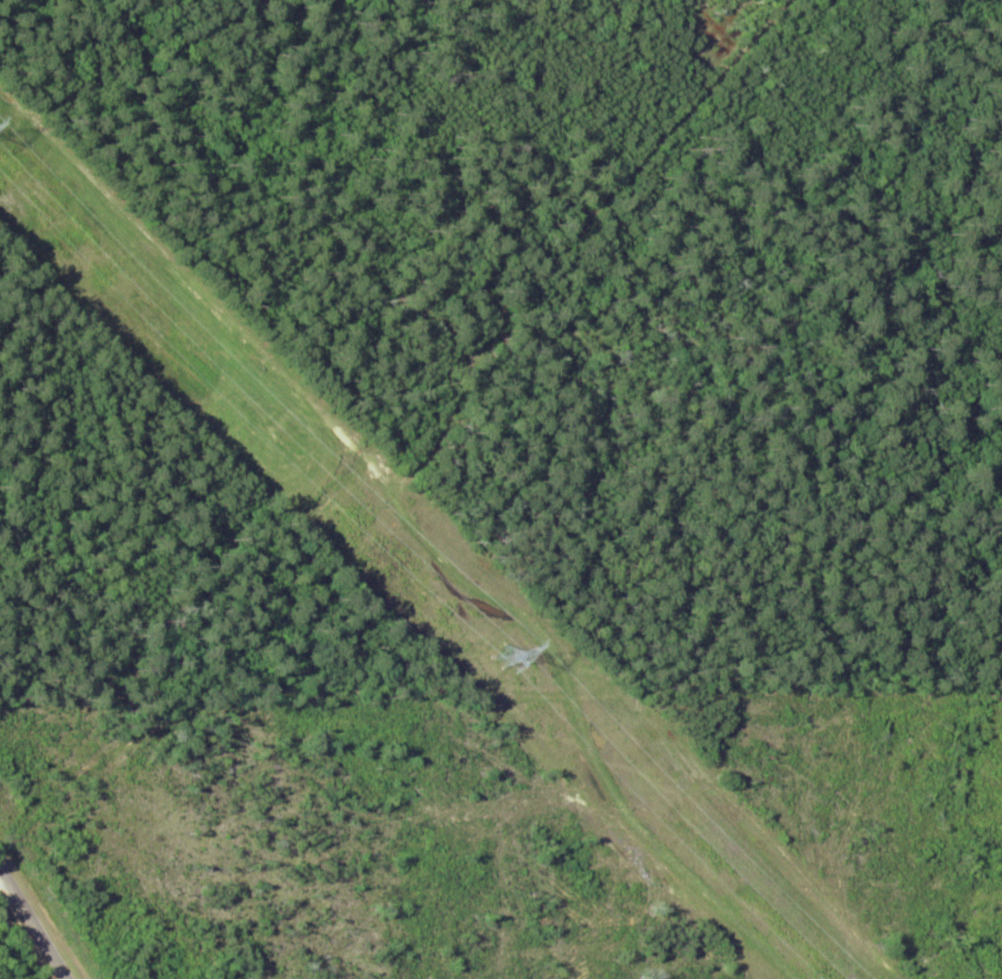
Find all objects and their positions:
power tower: (498, 656)
road: (15, 951)

